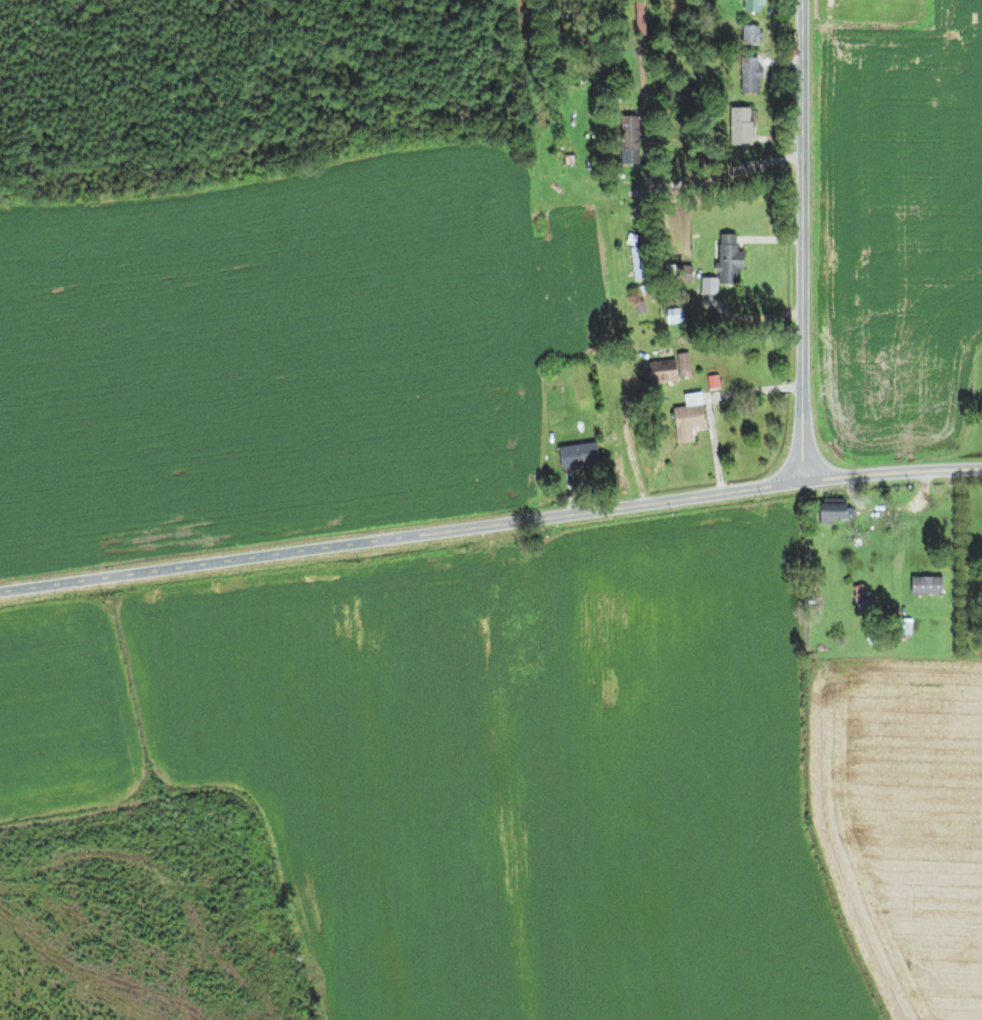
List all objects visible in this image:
building: (753, 5)
building: (639, 17)
building: (751, 36)
road: (787, 42)
road: (782, 62)
building: (751, 78)
building: (741, 128)
road: (778, 139)
building: (629, 140)
building: (558, 149)
building: (570, 163)
road: (648, 166)
road: (715, 176)
road: (588, 198)
road: (642, 213)
building: (677, 228)
crop: (899, 233)
road: (770, 238)
building: (632, 239)
road: (802, 240)
building: (729, 261)
building: (636, 264)
building: (683, 274)
building: (710, 286)
building: (645, 290)
building: (693, 297)
building: (641, 308)
building: (675, 316)
road: (751, 319)
crop: (269, 358)
building: (684, 364)
building: (663, 372)
building: (714, 382)
road: (708, 399)
building: (689, 418)
road: (626, 442)
building: (578, 455)
road: (571, 493)
road: (888, 509)
building: (834, 512)
road: (490, 524)
road: (901, 551)
building: (518, 585)
building: (927, 587)
building: (432, 588)
building: (862, 598)
building: (933, 627)
building: (906, 629)
crop: (519, 769)
crop: (903, 821)

